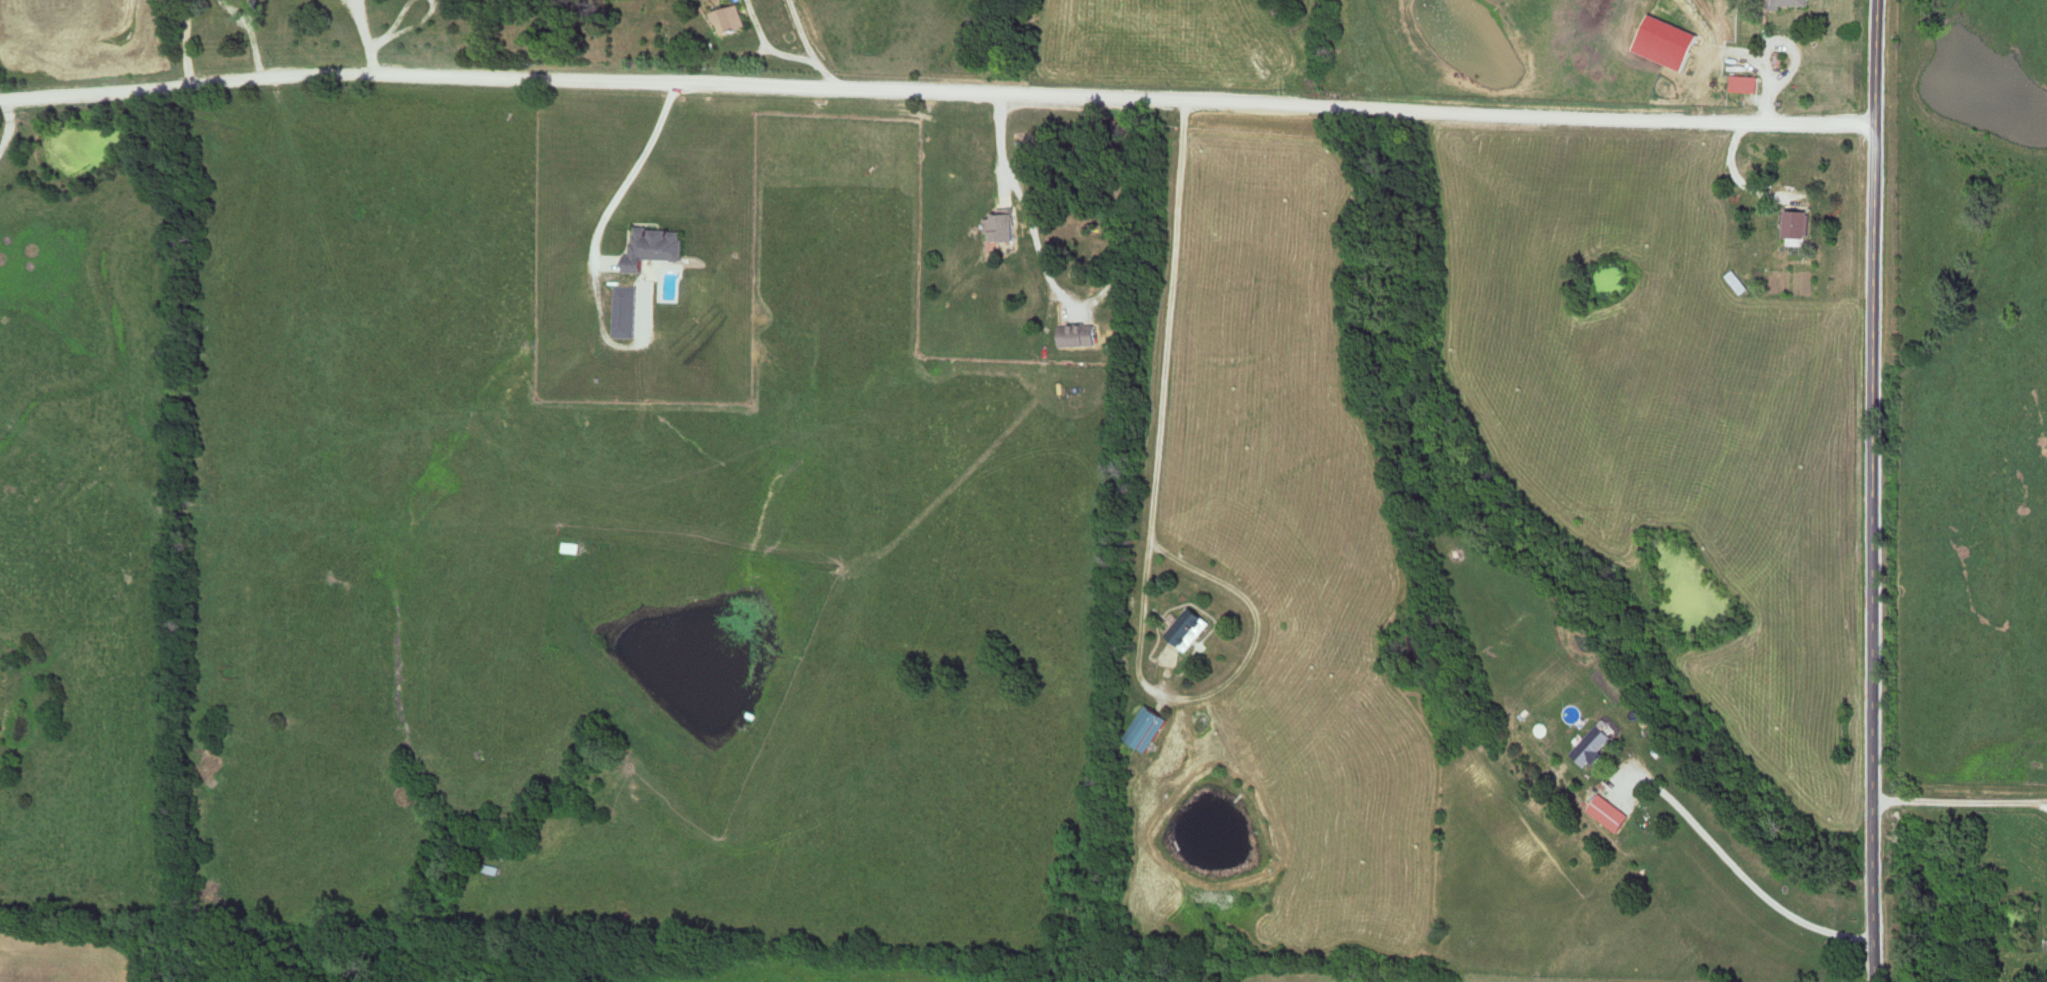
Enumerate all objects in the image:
building: (1791, 3)
building: (731, 20)
road: (801, 34)
building: (1665, 43)
road: (197, 44)
road: (255, 49)
road: (770, 49)
road: (829, 77)
building: (1744, 86)
road: (938, 93)
road: (629, 174)
building: (1799, 227)
building: (998, 229)
building: (653, 247)
road: (1081, 300)
building: (1075, 337)
road: (1874, 483)
road: (1163, 542)
building: (566, 548)
building: (1188, 630)
building: (1148, 731)
building: (1590, 746)
road: (1961, 805)
building: (1605, 814)
road: (1744, 877)
road: (1875, 975)

